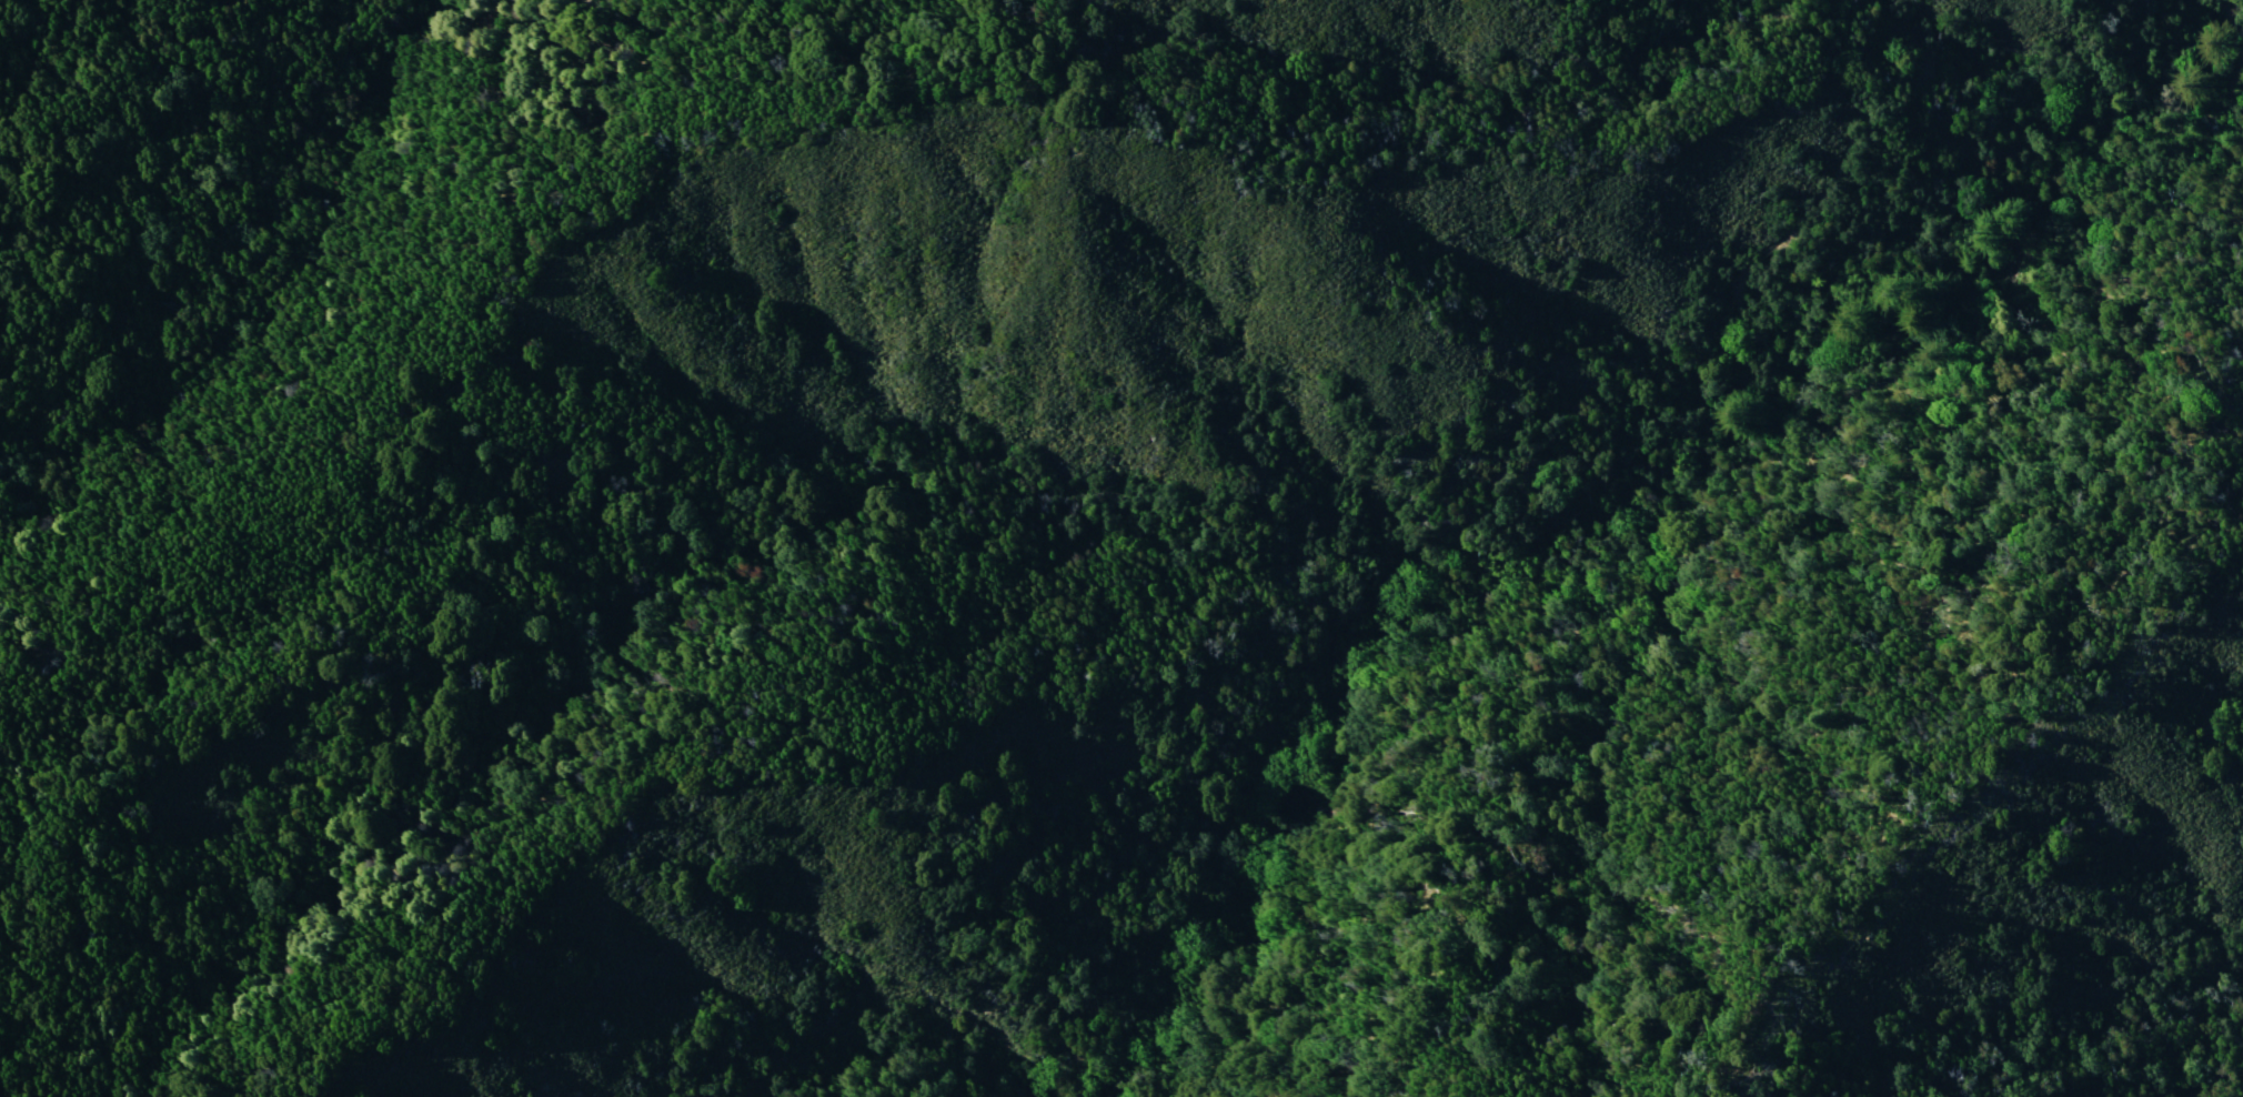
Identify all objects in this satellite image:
road: (2239, 8)

